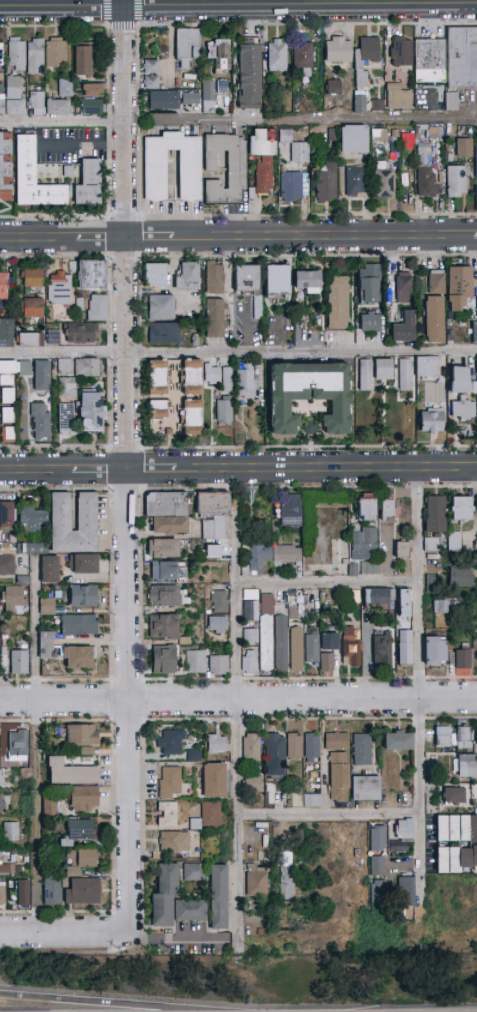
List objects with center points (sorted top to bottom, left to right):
road: (302, 7)
road: (63, 8)
building: (186, 47)
building: (338, 49)
building: (401, 51)
building: (55, 52)
building: (367, 52)
building: (16, 54)
building: (1, 55)
building: (277, 55)
building: (35, 56)
building: (302, 57)
building: (220, 58)
building: (448, 59)
building: (82, 60)
building: (151, 74)
building: (249, 77)
building: (361, 79)
building: (334, 87)
building: (64, 89)
building: (15, 95)
building: (202, 97)
building: (397, 97)
building: (92, 99)
building: (163, 100)
building: (451, 101)
building: (36, 103)
building: (360, 103)
building: (1, 105)
building: (58, 106)
building: (376, 106)
road: (313, 118)
road: (63, 123)
road: (151, 124)
building: (434, 133)
road: (134, 135)
building: (285, 135)
building: (378, 135)
building: (354, 139)
building: (464, 148)
building: (300, 152)
building: (263, 158)
building: (231, 166)
building: (6, 167)
building: (424, 171)
building: (25, 172)
building: (476, 174)
building: (155, 175)
building: (354, 181)
building: (456, 181)
building: (385, 183)
building: (326, 184)
building: (292, 186)
road: (238, 238)
building: (91, 275)
building: (155, 275)
building: (187, 276)
building: (214, 277)
building: (33, 278)
building: (246, 278)
building: (277, 281)
building: (436, 281)
building: (308, 282)
building: (369, 283)
building: (3, 287)
building: (403, 287)
building: (458, 287)
building: (60, 288)
building: (338, 303)
building: (31, 307)
building: (161, 307)
building: (0, 308)
building: (96, 308)
building: (216, 318)
building: (434, 319)
building: (371, 322)
building: (404, 328)
building: (6, 333)
building: (81, 333)
building: (163, 333)
building: (474, 333)
building: (50, 335)
building: (30, 340)
road: (238, 353)
building: (64, 366)
building: (475, 366)
building: (87, 367)
building: (427, 367)
building: (8, 368)
building: (24, 368)
building: (374, 372)
building: (212, 374)
building: (405, 374)
building: (42, 376)
building: (225, 377)
building: (157, 378)
building: (6, 380)
building: (245, 380)
building: (460, 380)
building: (66, 387)
building: (309, 394)
building: (7, 396)
building: (191, 397)
building: (476, 400)
building: (158, 409)
building: (90, 411)
building: (224, 412)
building: (7, 415)
building: (463, 416)
building: (65, 419)
building: (432, 419)
building: (40, 421)
building: (7, 434)
road: (128, 466)
road: (326, 469)
road: (476, 469)
road: (100, 471)
road: (152, 471)
road: (36, 472)
building: (461, 508)
building: (365, 509)
building: (290, 510)
building: (387, 510)
building: (87, 511)
building: (167, 512)
building: (213, 513)
building: (435, 514)
building: (7, 516)
building: (31, 518)
building: (455, 541)
building: (431, 544)
building: (163, 548)
building: (30, 549)
building: (364, 549)
building: (213, 550)
building: (402, 550)
building: (271, 557)
building: (432, 559)
building: (6, 560)
building: (84, 564)
building: (49, 569)
building: (167, 572)
building: (460, 577)
building: (430, 580)
road: (327, 584)
building: (83, 596)
building: (163, 596)
building: (379, 597)
building: (220, 598)
building: (13, 600)
building: (399, 600)
building: (250, 605)
building: (47, 606)
building: (441, 606)
building: (79, 625)
building: (218, 625)
building: (163, 626)
road: (36, 632)
building: (266, 632)
building: (250, 637)
building: (282, 642)
building: (330, 642)
building: (46, 645)
building: (351, 647)
building: (381, 647)
building: (405, 647)
building: (297, 648)
building: (312, 649)
building: (435, 650)
building: (475, 655)
building: (77, 657)
building: (461, 659)
building: (163, 660)
building: (196, 661)
building: (18, 662)
building: (249, 662)
building: (327, 662)
building: (219, 665)
road: (415, 685)
road: (238, 701)
road: (237, 730)
building: (82, 735)
building: (476, 735)
building: (452, 737)
building: (398, 740)
building: (337, 741)
building: (171, 742)
building: (217, 744)
building: (17, 746)
building: (250, 747)
building: (294, 747)
building: (312, 747)
building: (84, 749)
building: (274, 749)
building: (361, 749)
building: (195, 756)
building: (466, 765)
building: (70, 773)
building: (339, 776)
building: (1, 778)
building: (213, 780)
building: (170, 782)
building: (254, 783)
building: (366, 788)
building: (453, 796)
building: (84, 799)
building: (312, 800)
building: (2, 803)
building: (167, 814)
road: (327, 815)
building: (207, 817)
road: (38, 818)
building: (457, 828)
building: (78, 830)
building: (10, 831)
building: (402, 835)
building: (377, 839)
building: (170, 841)
building: (455, 858)
building: (79, 860)
building: (377, 866)
building: (4, 867)
building: (193, 872)
building: (256, 880)
building: (285, 889)
building: (51, 891)
building: (83, 891)
building: (406, 891)
building: (377, 892)
building: (2, 893)
building: (20, 893)
building: (218, 897)
building: (172, 901)
road: (64, 934)
road: (175, 940)
road: (100, 1004)

